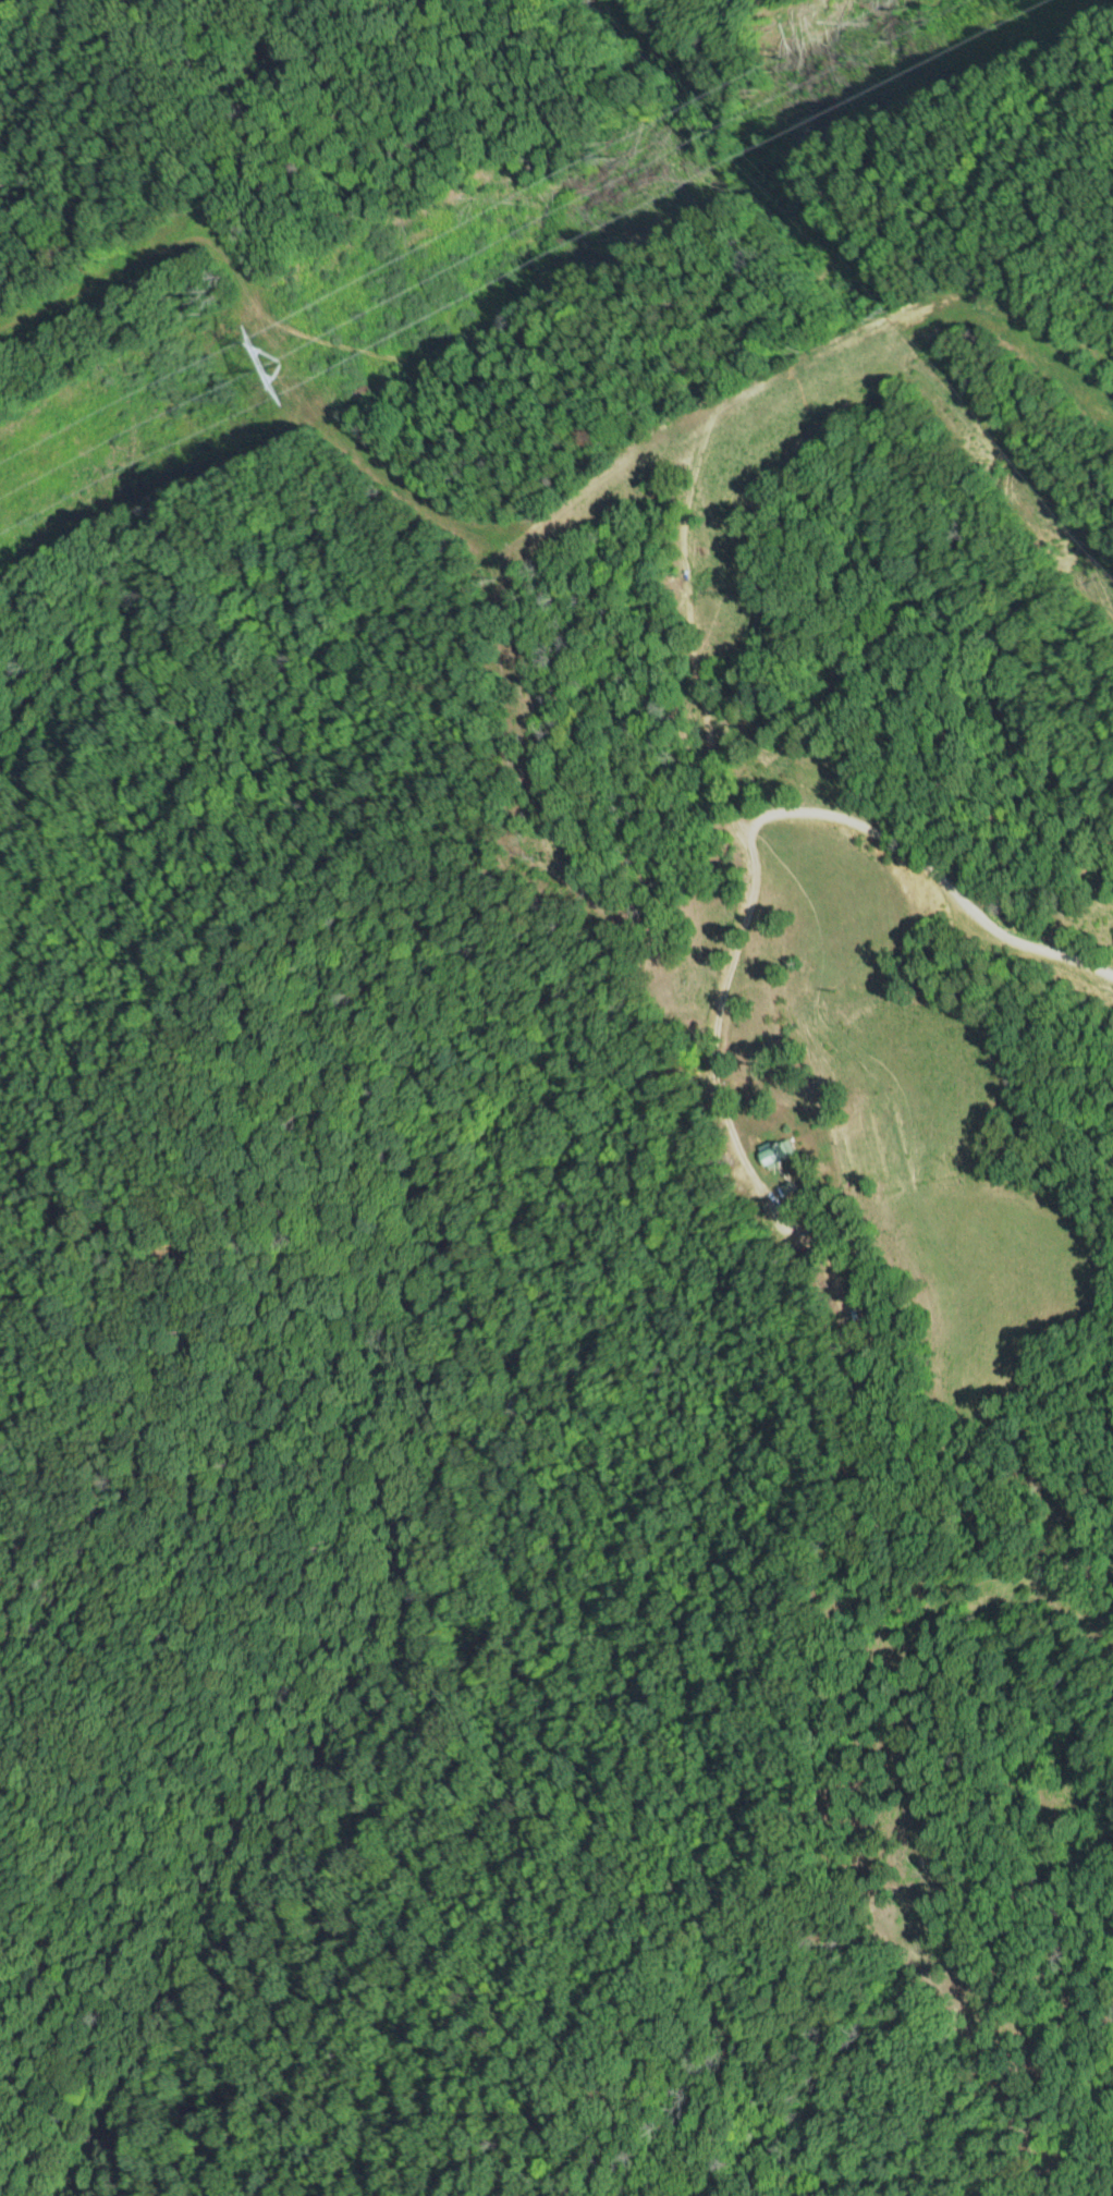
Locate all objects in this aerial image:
power tower: (276, 357)
building: (773, 1151)

